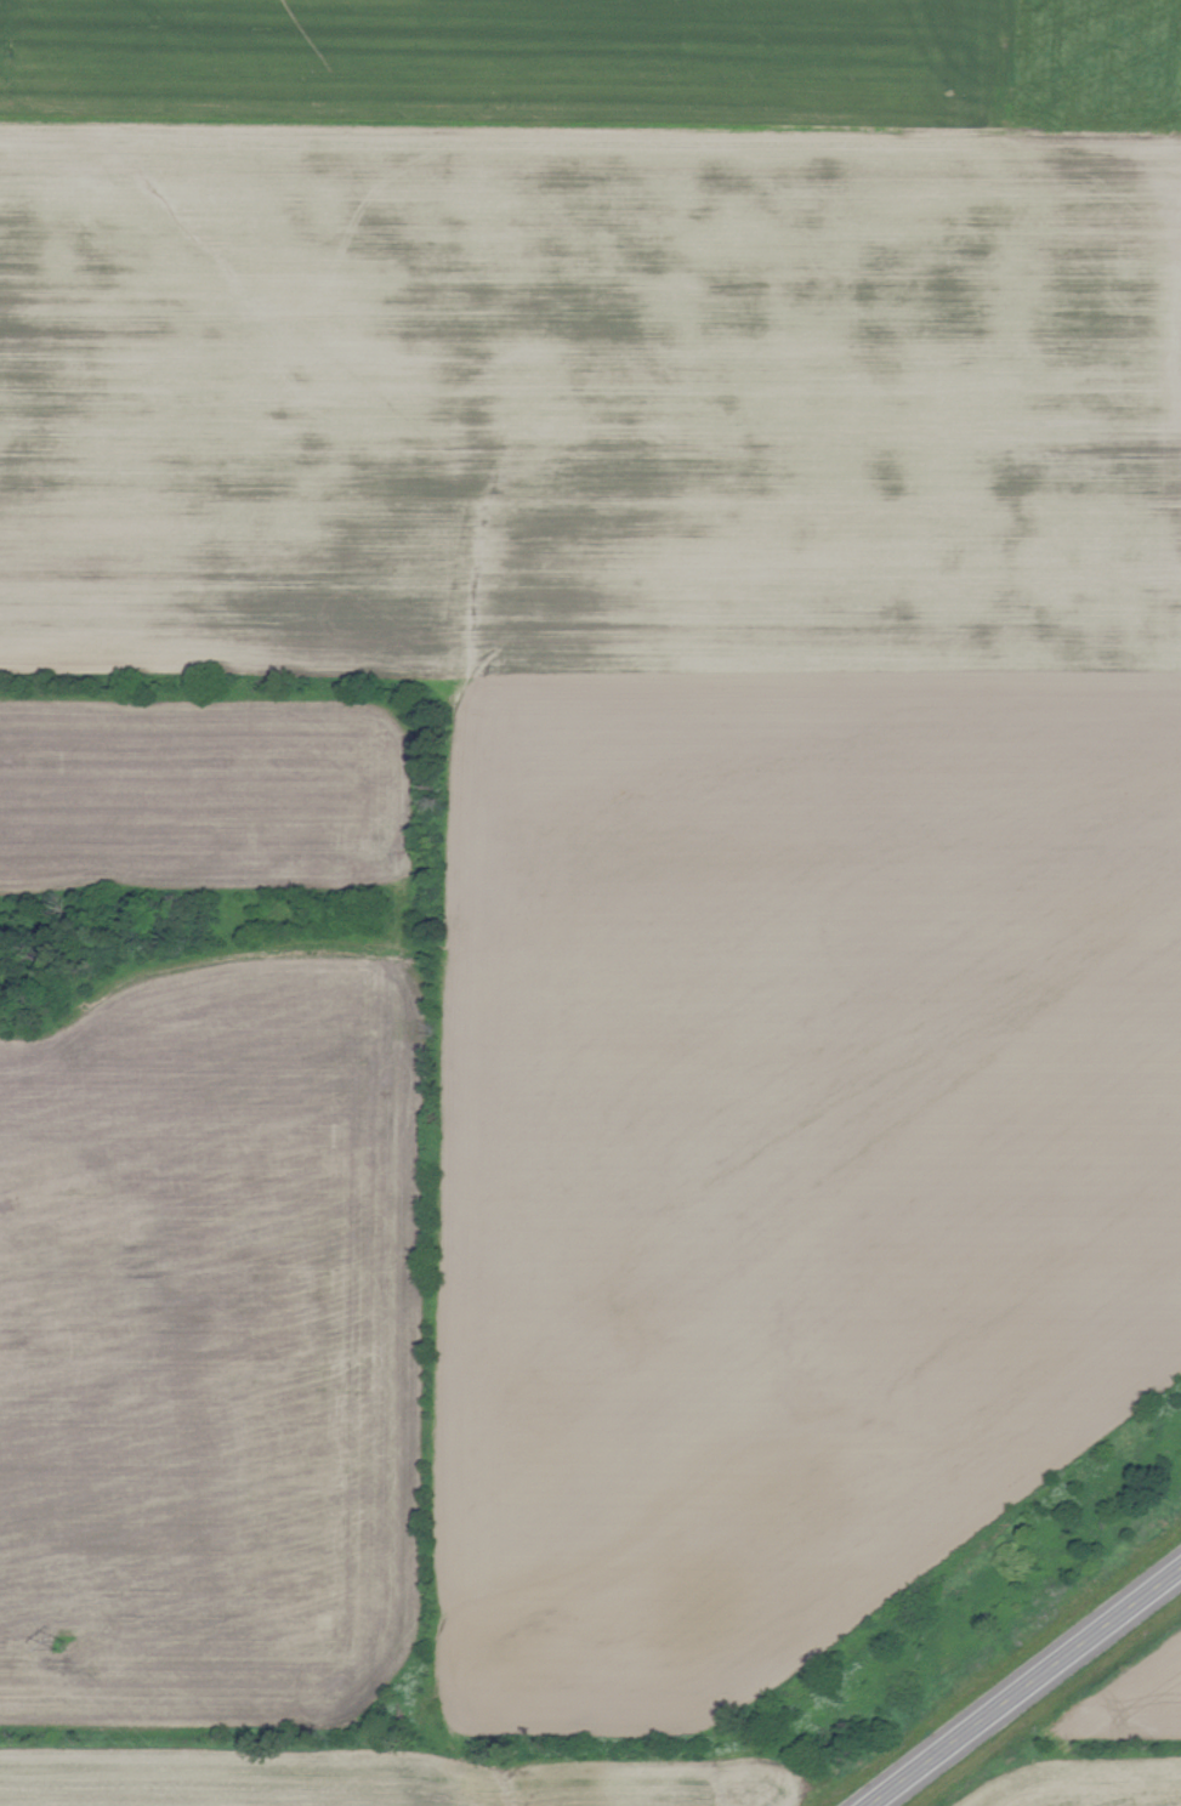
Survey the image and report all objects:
power tower: (61, 1645)
road: (1027, 1688)

